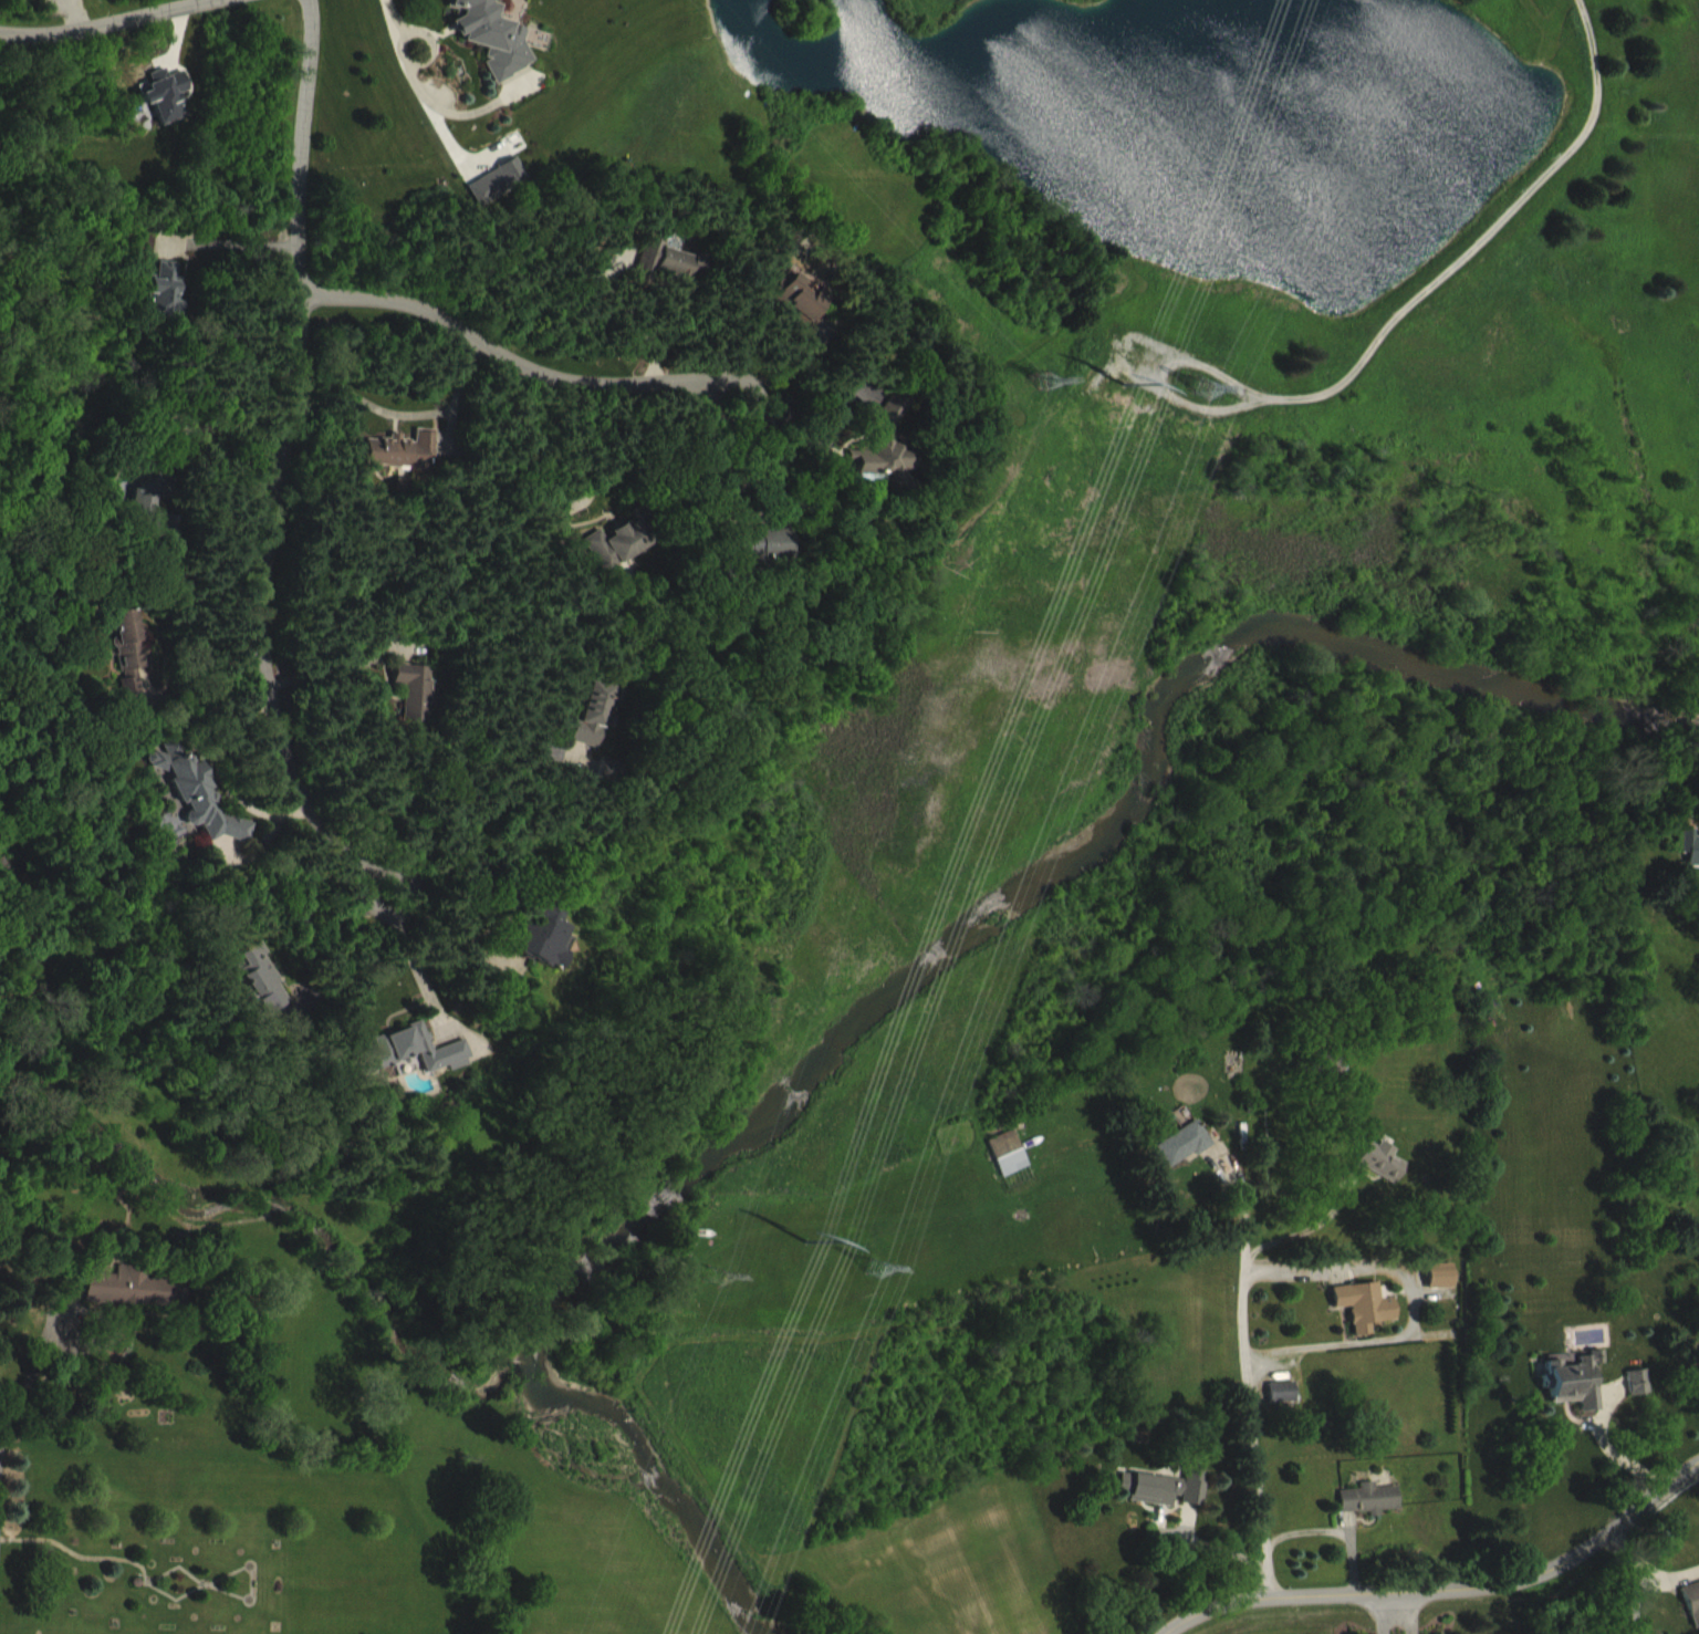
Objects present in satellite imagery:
road: (403, 22)
road: (104, 23)
building: (493, 44)
building: (169, 110)
building: (503, 197)
road: (233, 236)
building: (674, 275)
road: (1424, 290)
building: (806, 312)
road: (637, 313)
road: (800, 355)
road: (502, 358)
power tower: (1043, 379)
road: (747, 381)
power tower: (1208, 389)
power tower: (1107, 407)
road: (407, 413)
road: (826, 431)
road: (623, 451)
building: (892, 460)
road: (278, 461)
building: (407, 466)
building: (156, 529)
building: (769, 555)
building: (622, 560)
building: (133, 658)
road: (346, 660)
building: (419, 706)
building: (601, 729)
building: (202, 809)
road: (461, 833)
building: (1693, 858)
road: (445, 928)
road: (329, 935)
road: (407, 947)
building: (549, 951)
building: (268, 995)
building: (419, 1065)
building: (1190, 1158)
building: (1015, 1167)
building: (1389, 1175)
road: (1309, 1226)
power tower: (806, 1240)
power tower: (874, 1264)
power tower: (712, 1273)
building: (1447, 1290)
building: (131, 1300)
building: (1370, 1320)
road: (29, 1372)
road: (1244, 1375)
building: (1581, 1393)
building: (1644, 1396)
building: (1288, 1406)
road: (1608, 1447)
building: (1172, 1501)
building: (1377, 1513)
road: (1332, 1530)
road: (1445, 1586)
road: (1391, 1612)
building: (1695, 1613)

